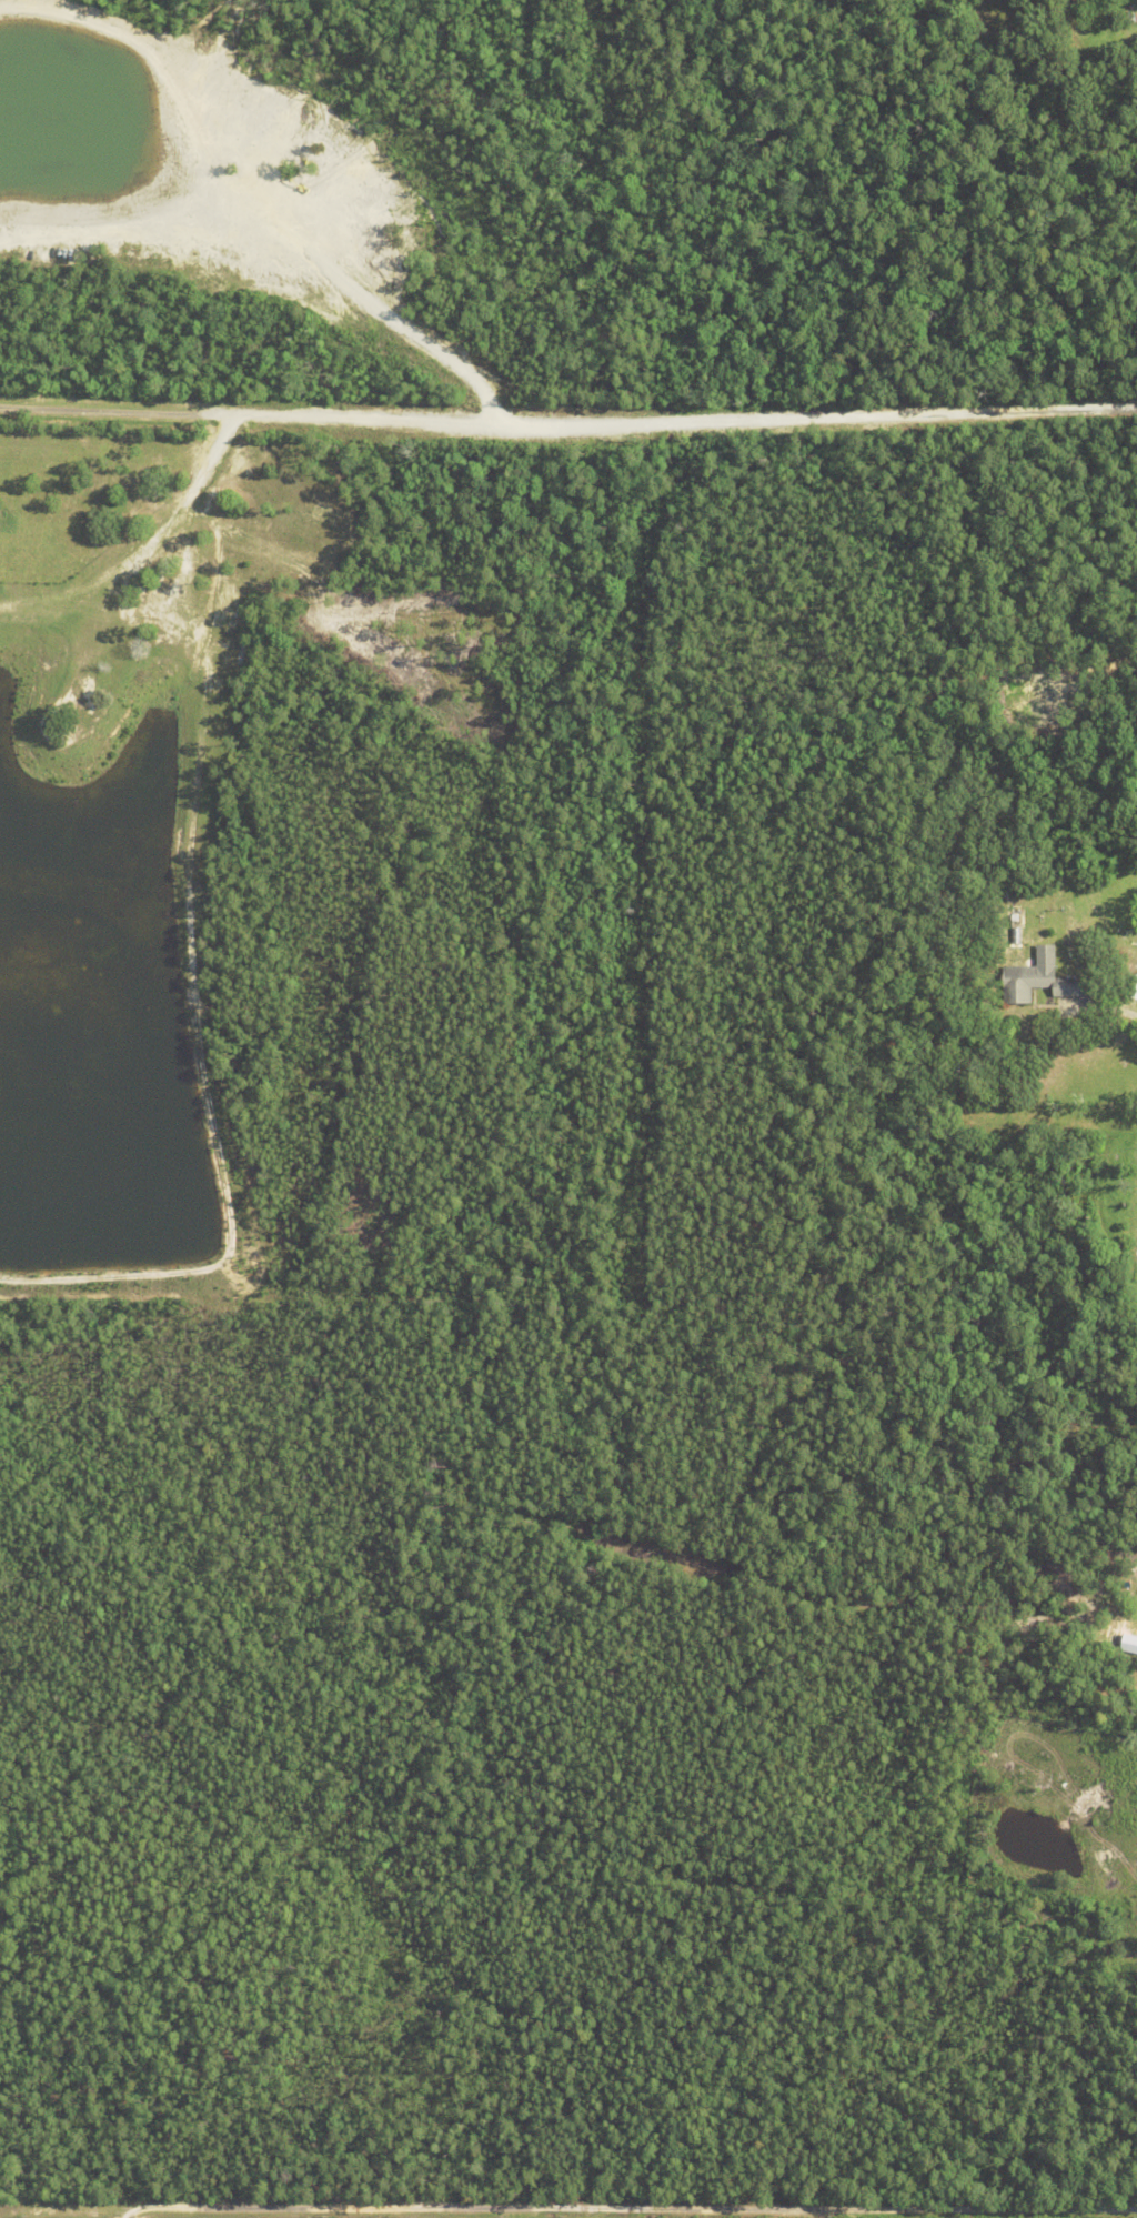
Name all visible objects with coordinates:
road: (568, 423)
building: (1016, 926)
building: (1042, 980)
road: (1133, 1012)
building: (1131, 1644)
road: (626, 2214)

